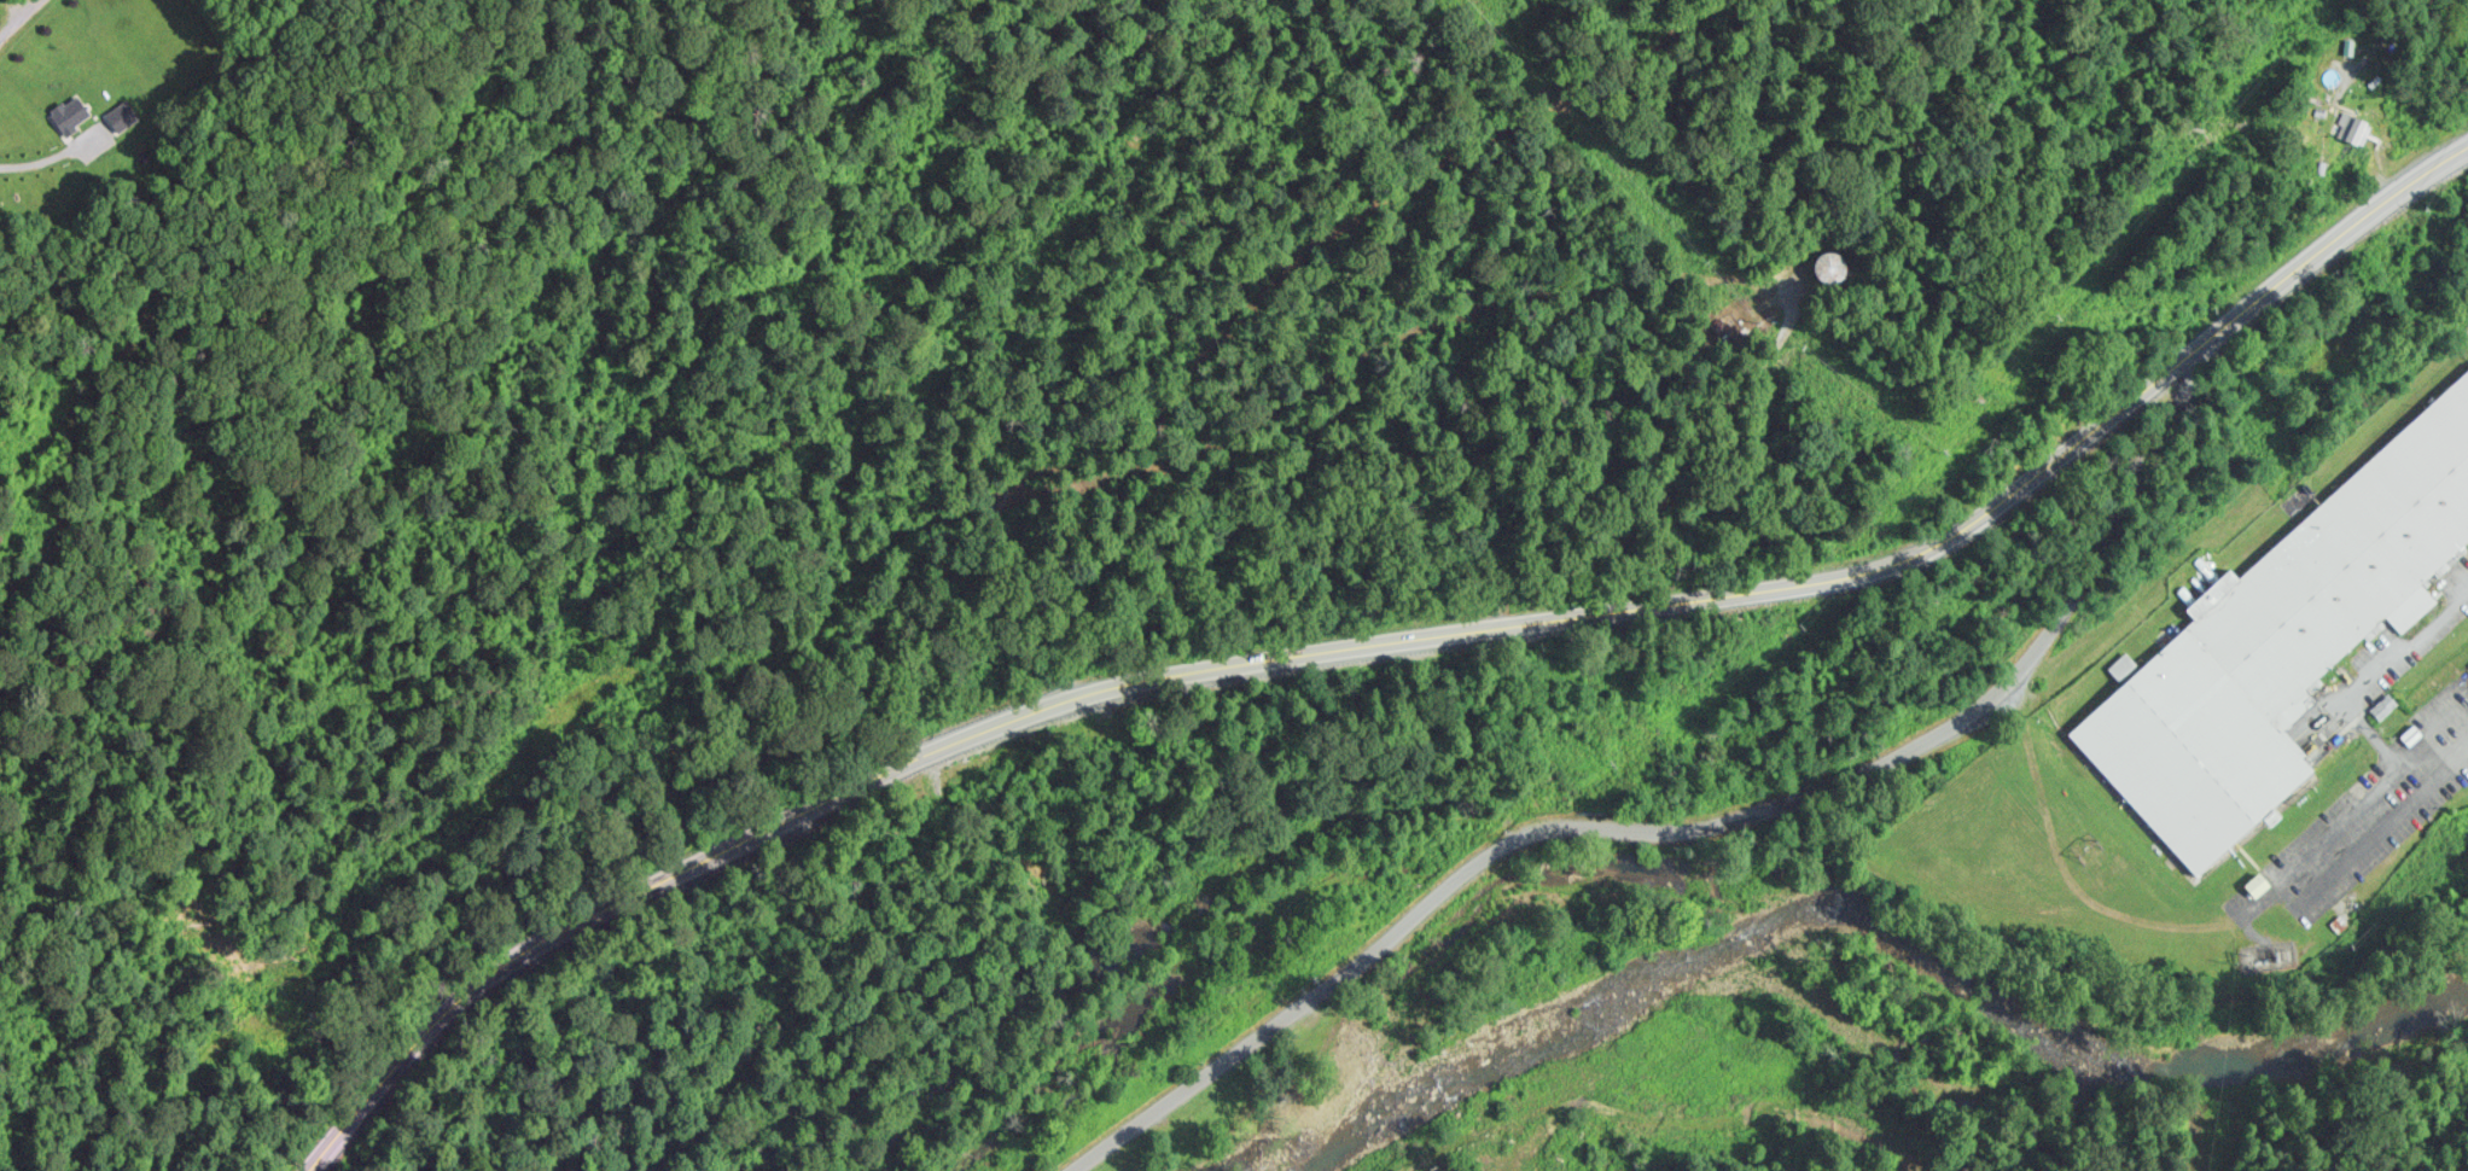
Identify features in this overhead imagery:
road: (0, 0)
building: (2383, 69)
road: (723, 105)
building: (72, 110)
building: (2356, 123)
road: (1820, 233)
building: (1833, 261)
road: (1723, 328)
road: (1385, 643)
building: (2280, 645)
building: (2386, 704)
road: (1670, 827)
road: (229, 1067)
building: (1648, 1103)
building: (1527, 1155)
road: (1437, 1159)

